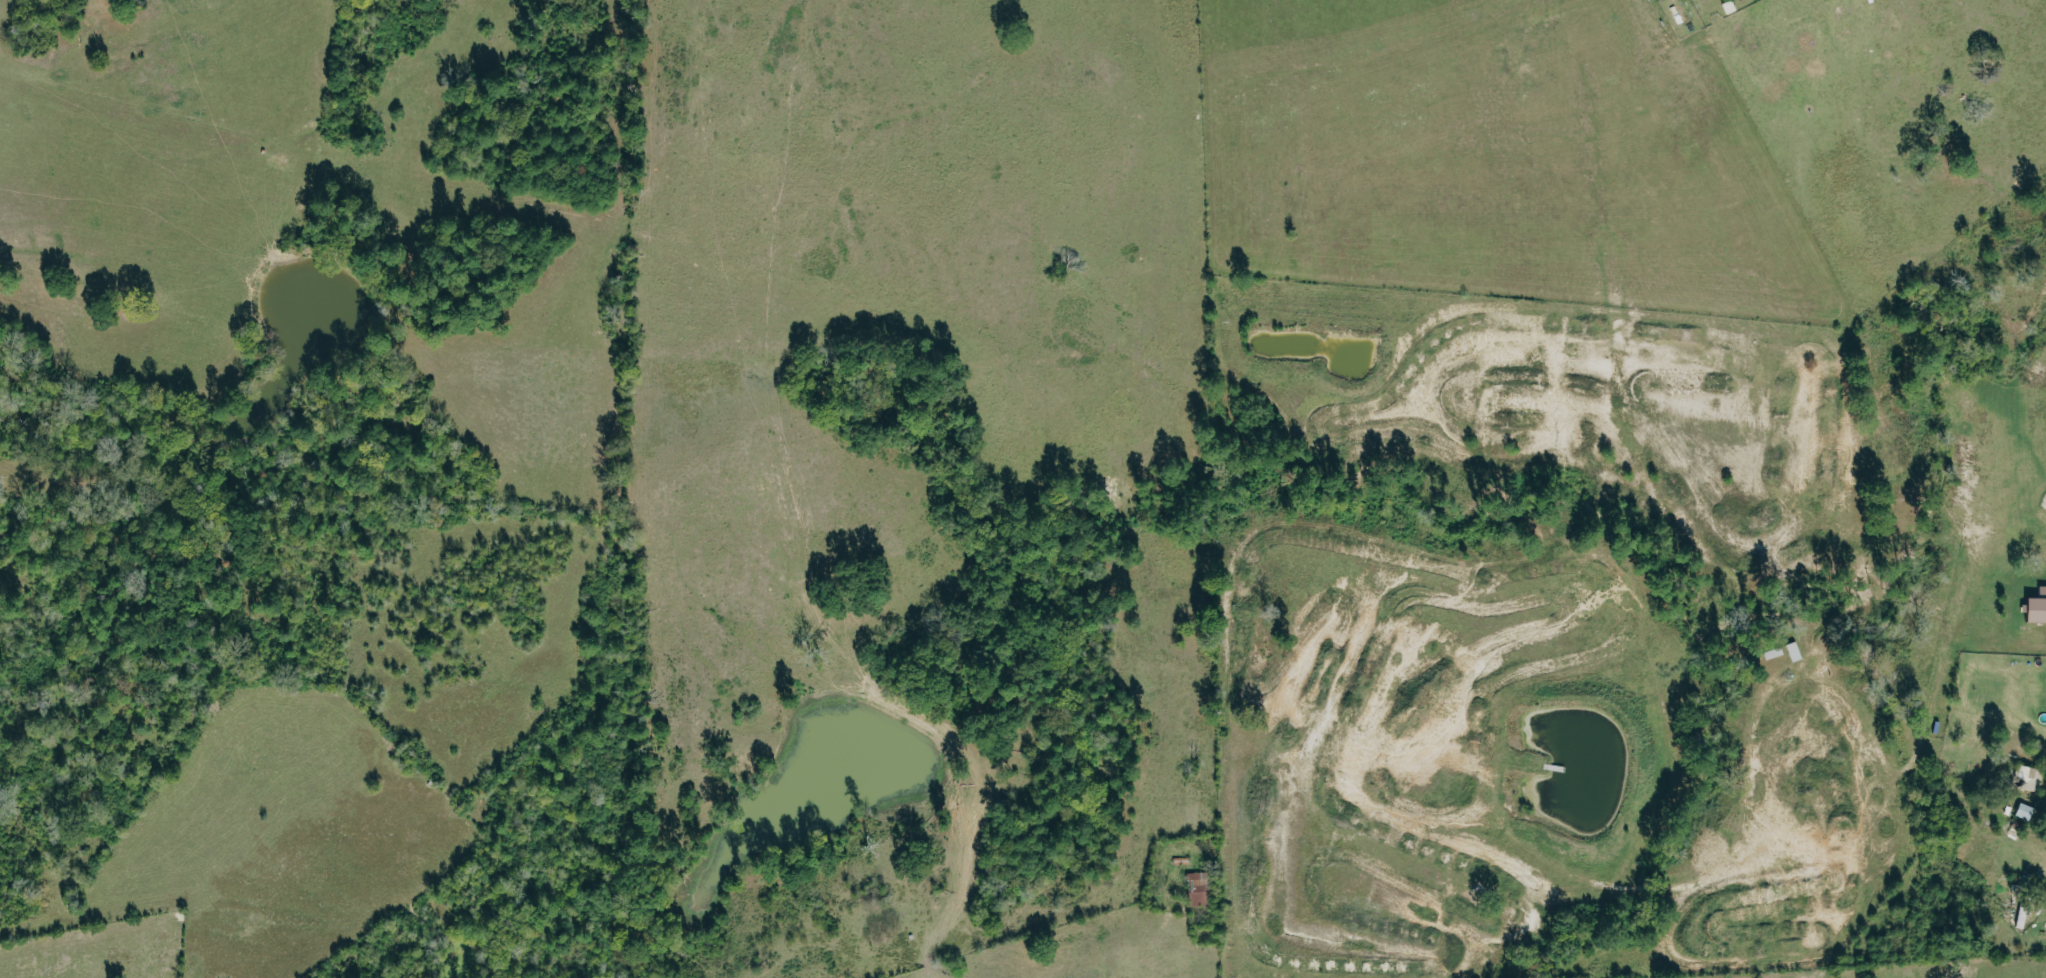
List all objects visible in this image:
building: (2035, 607)
building: (2023, 778)
building: (2022, 811)

